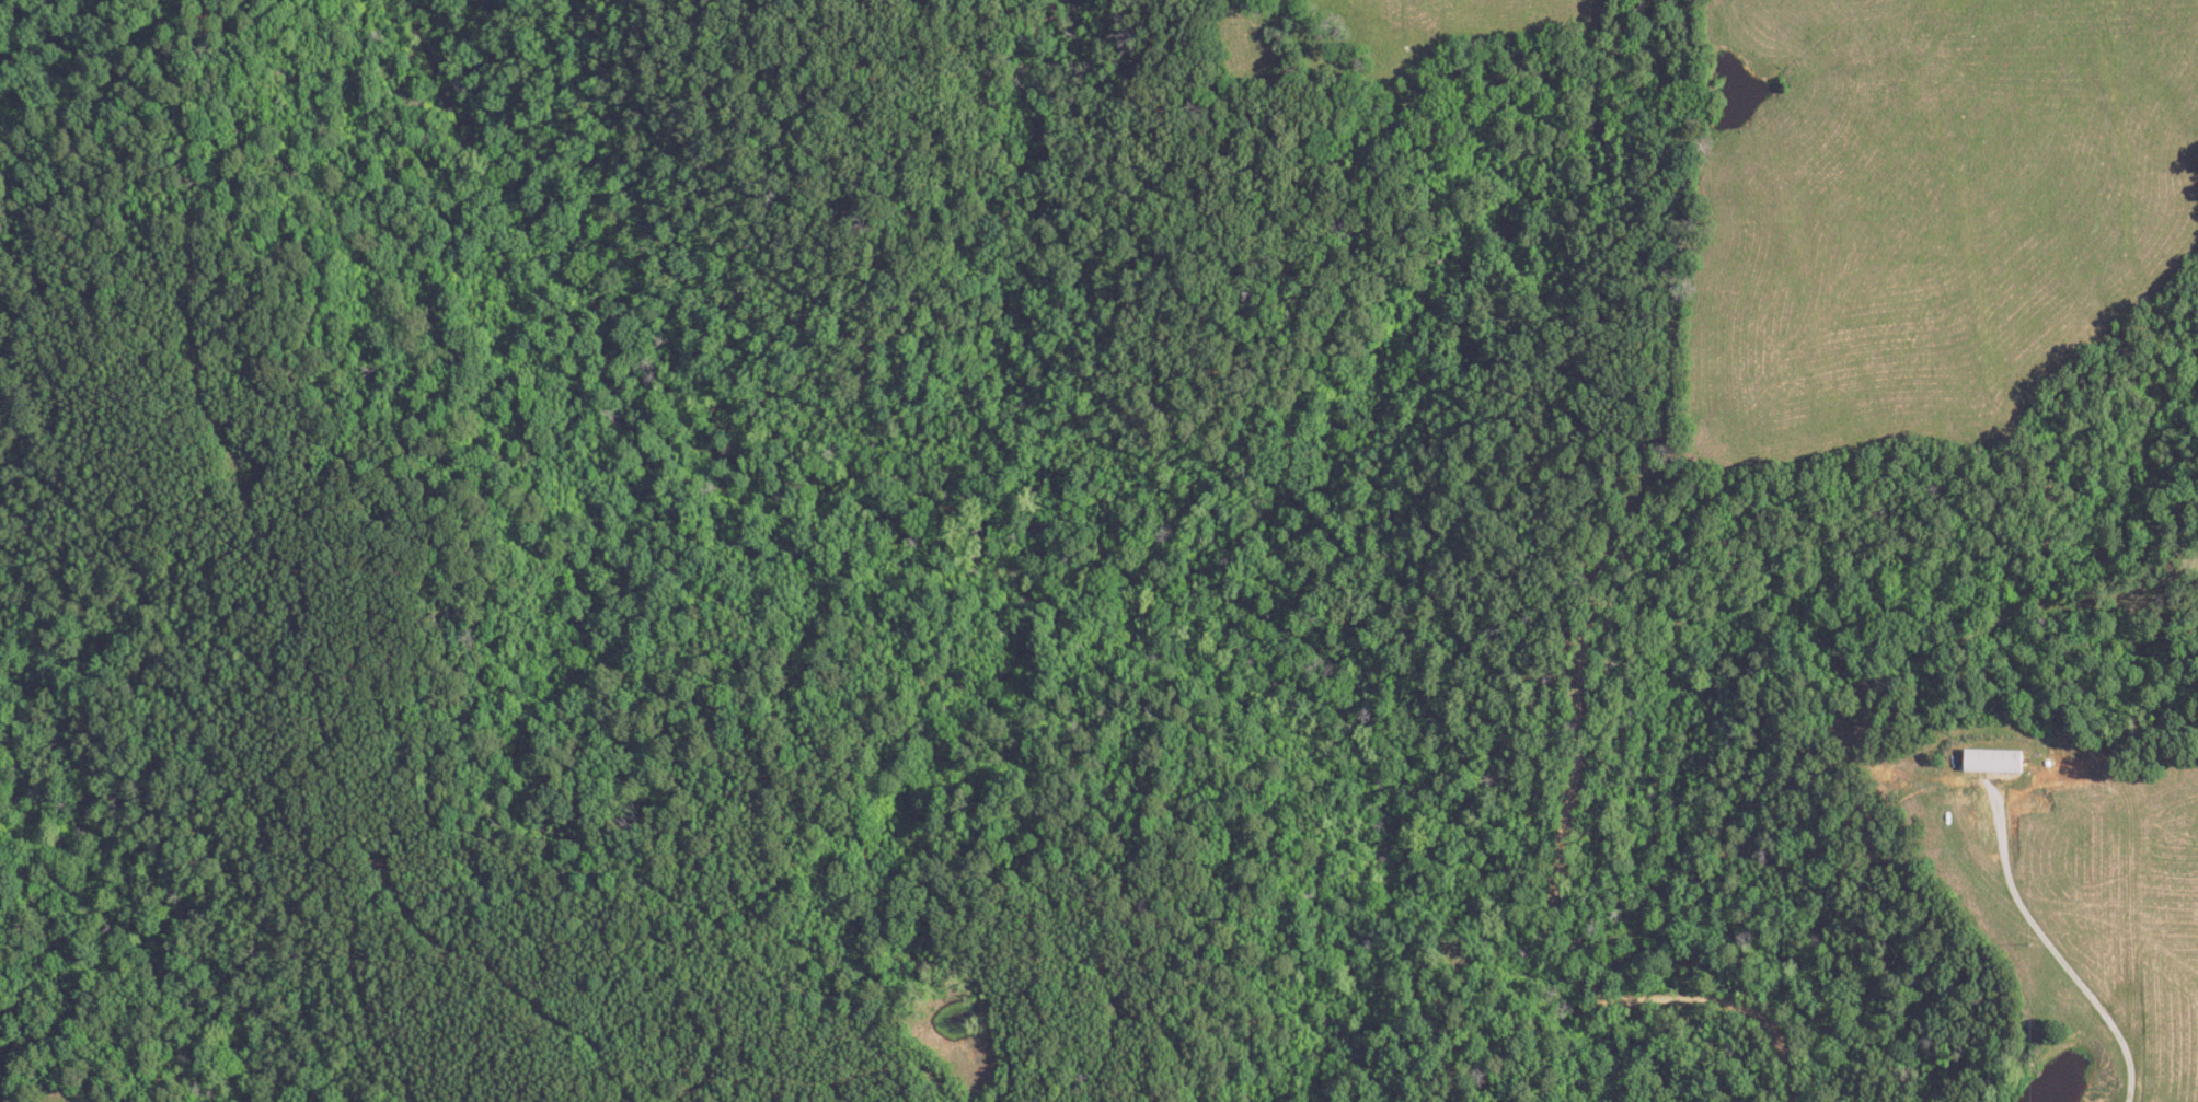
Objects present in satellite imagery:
building: (1988, 762)

